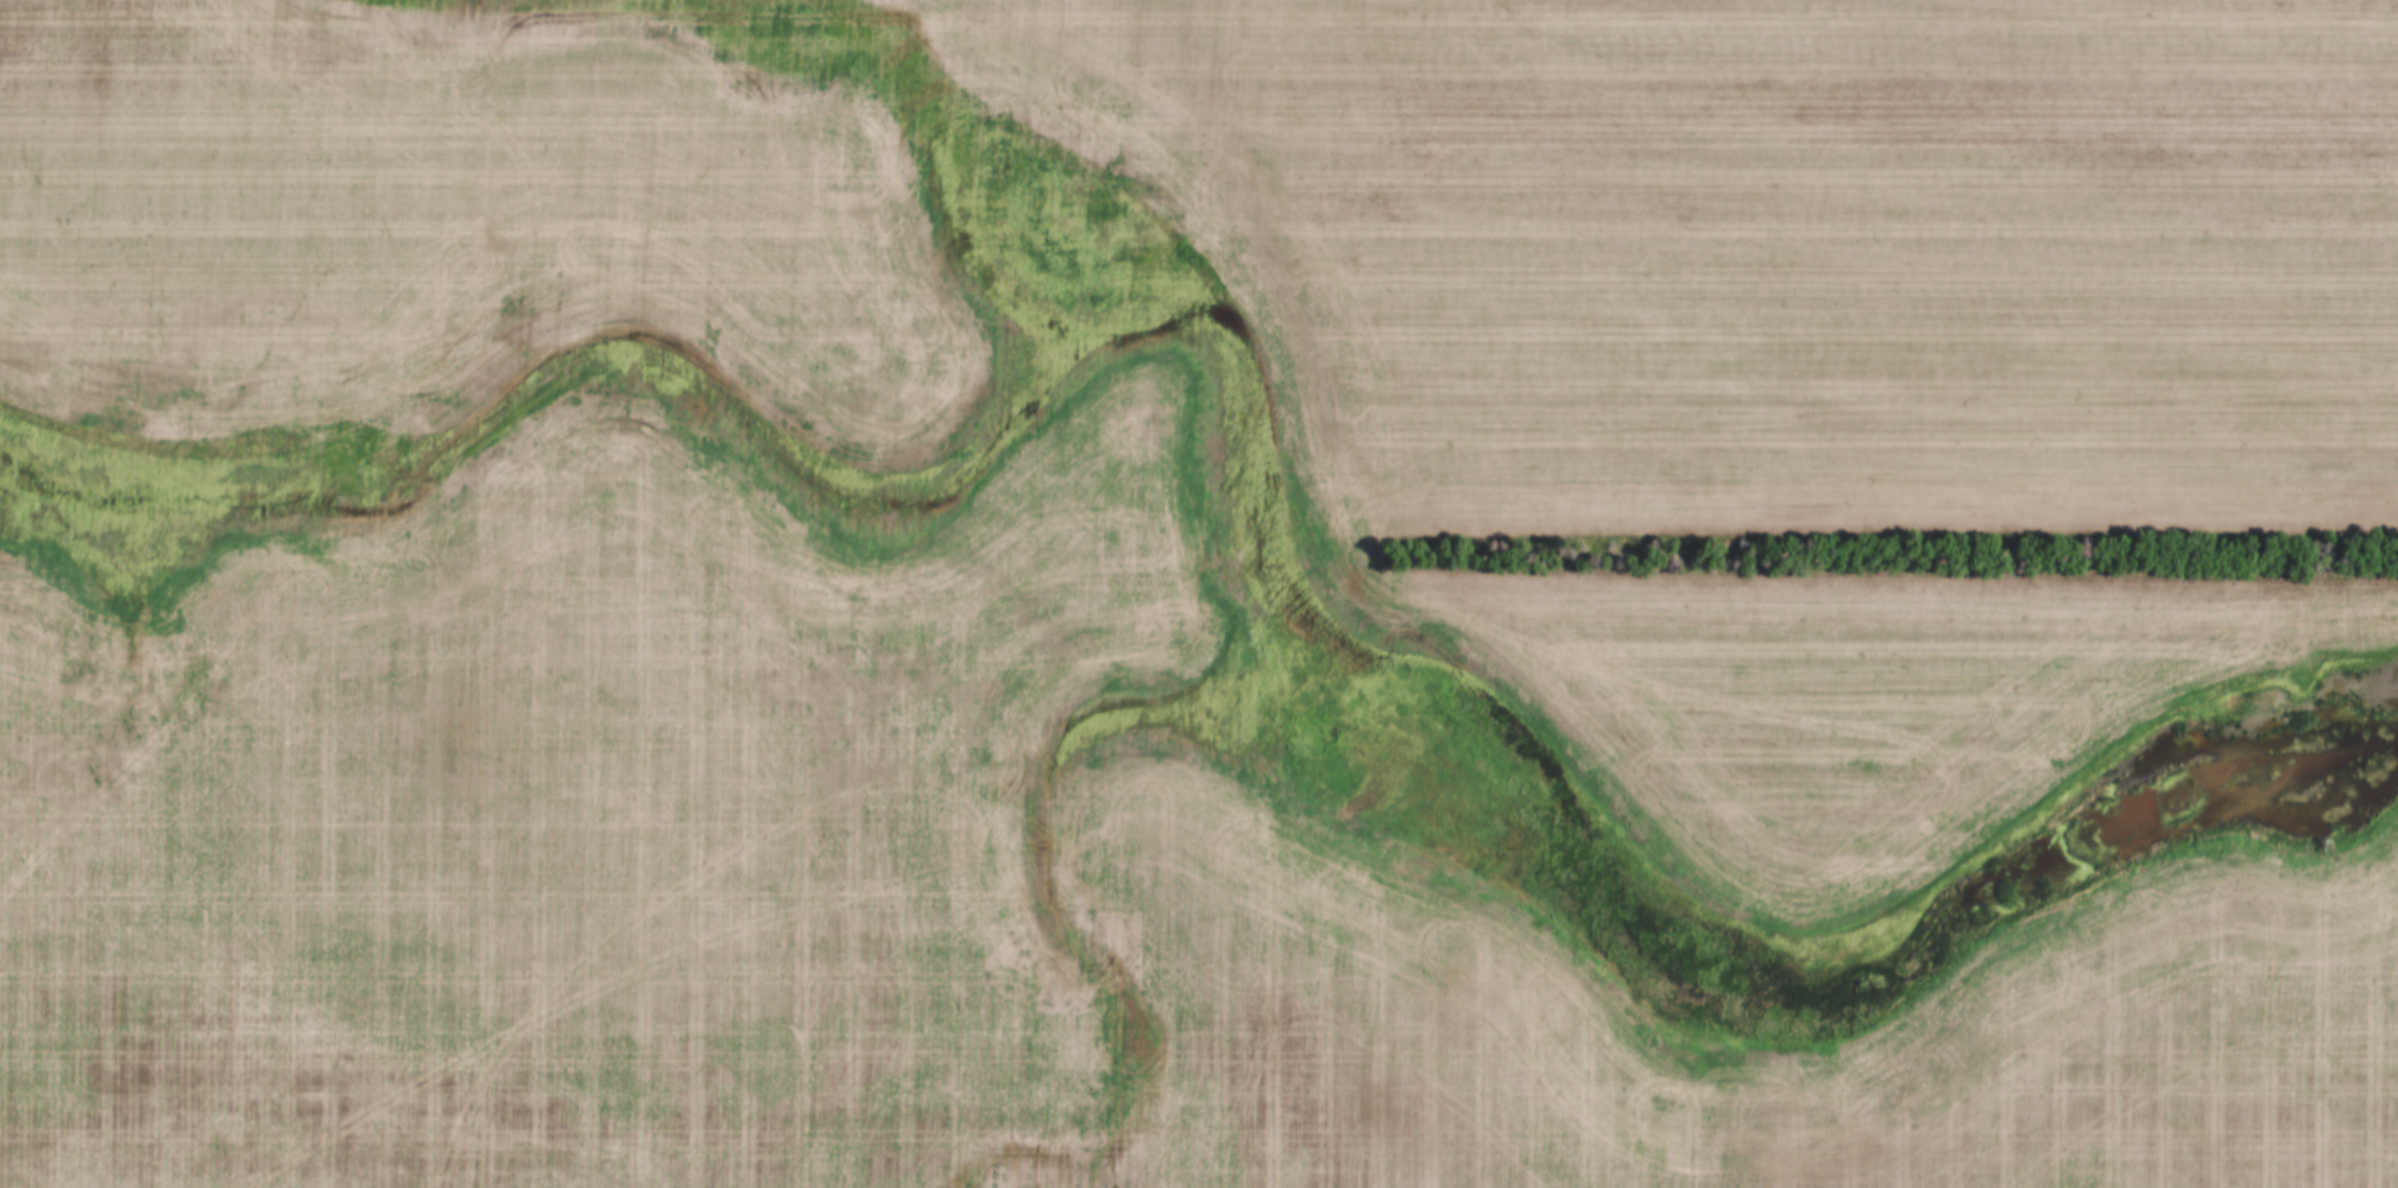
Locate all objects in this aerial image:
road: (1090, 960)

